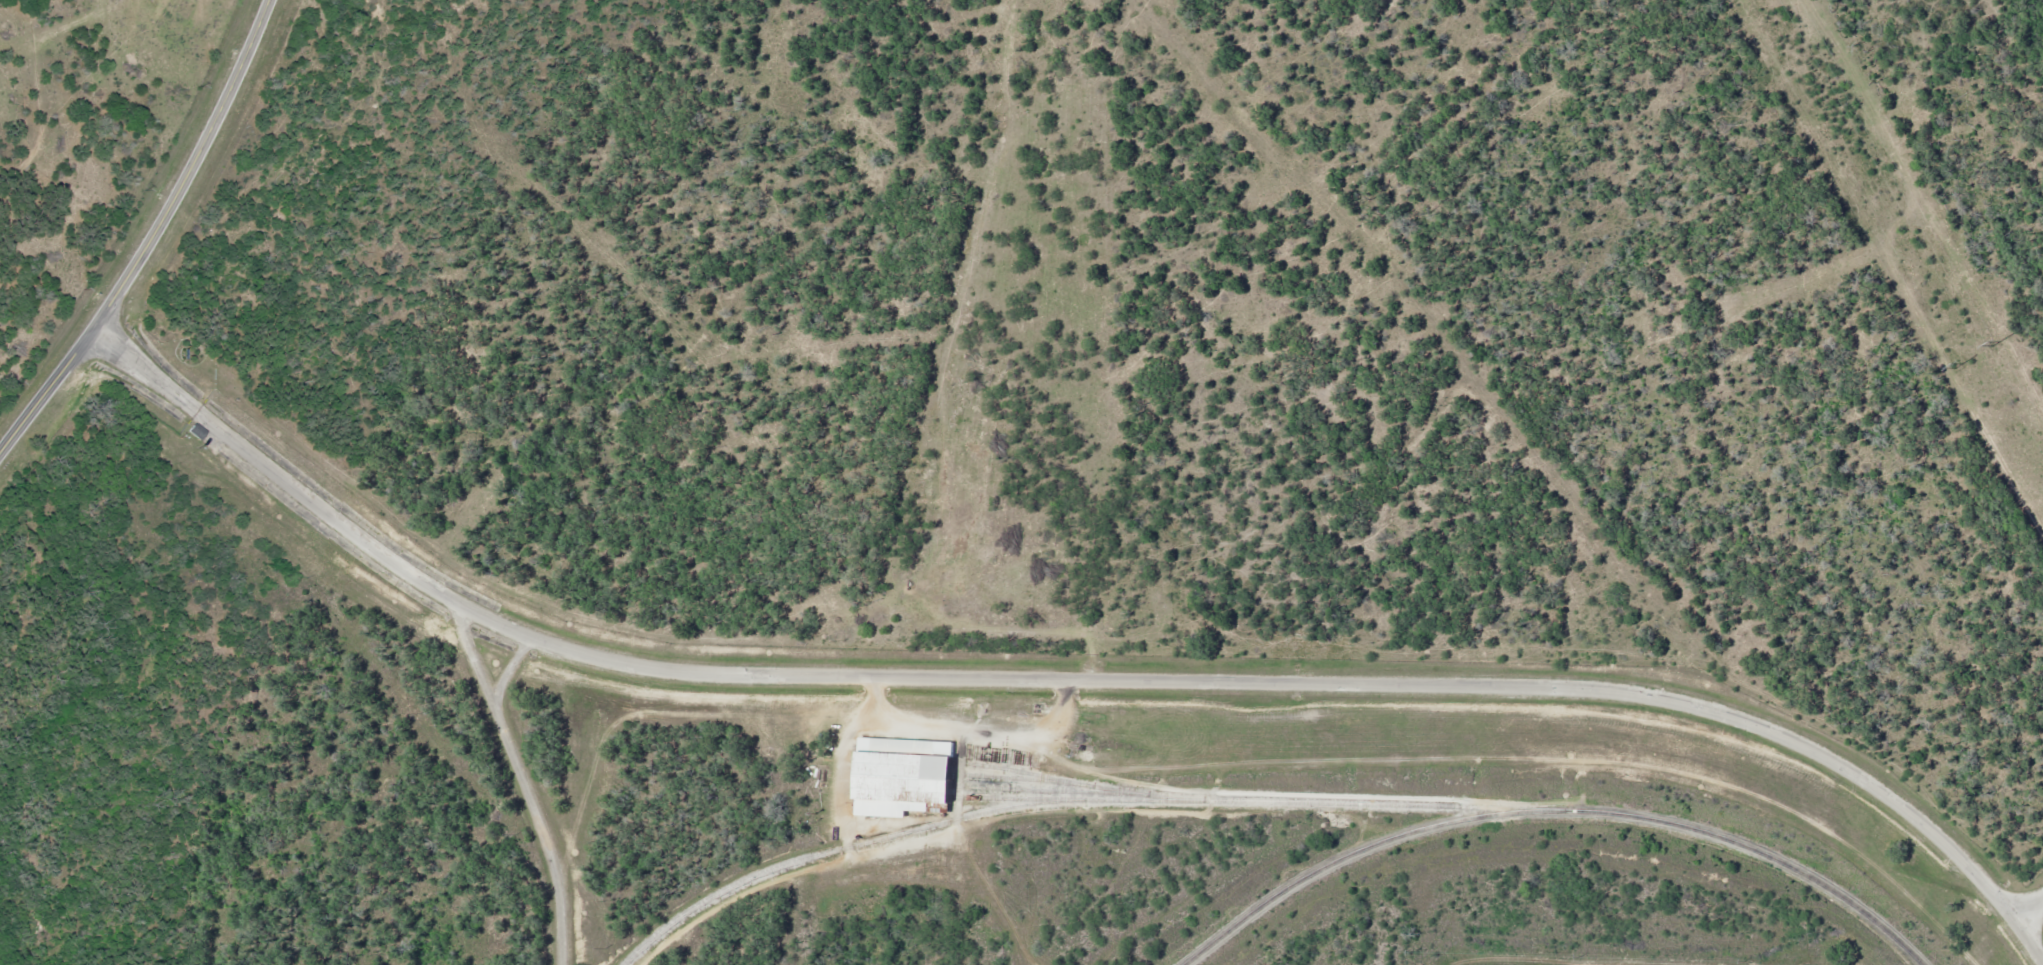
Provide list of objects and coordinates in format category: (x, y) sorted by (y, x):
road: (154, 236)
power tower: (1994, 344)
power tower: (1956, 367)
building: (195, 430)
power plant: (1062, 496)
road: (1067, 678)
railway: (1019, 770)
building: (902, 776)
road: (520, 779)
railway: (1048, 782)
railway: (1073, 791)
railway: (1025, 798)
railway: (1064, 801)
railway: (1553, 809)
road: (2027, 901)

